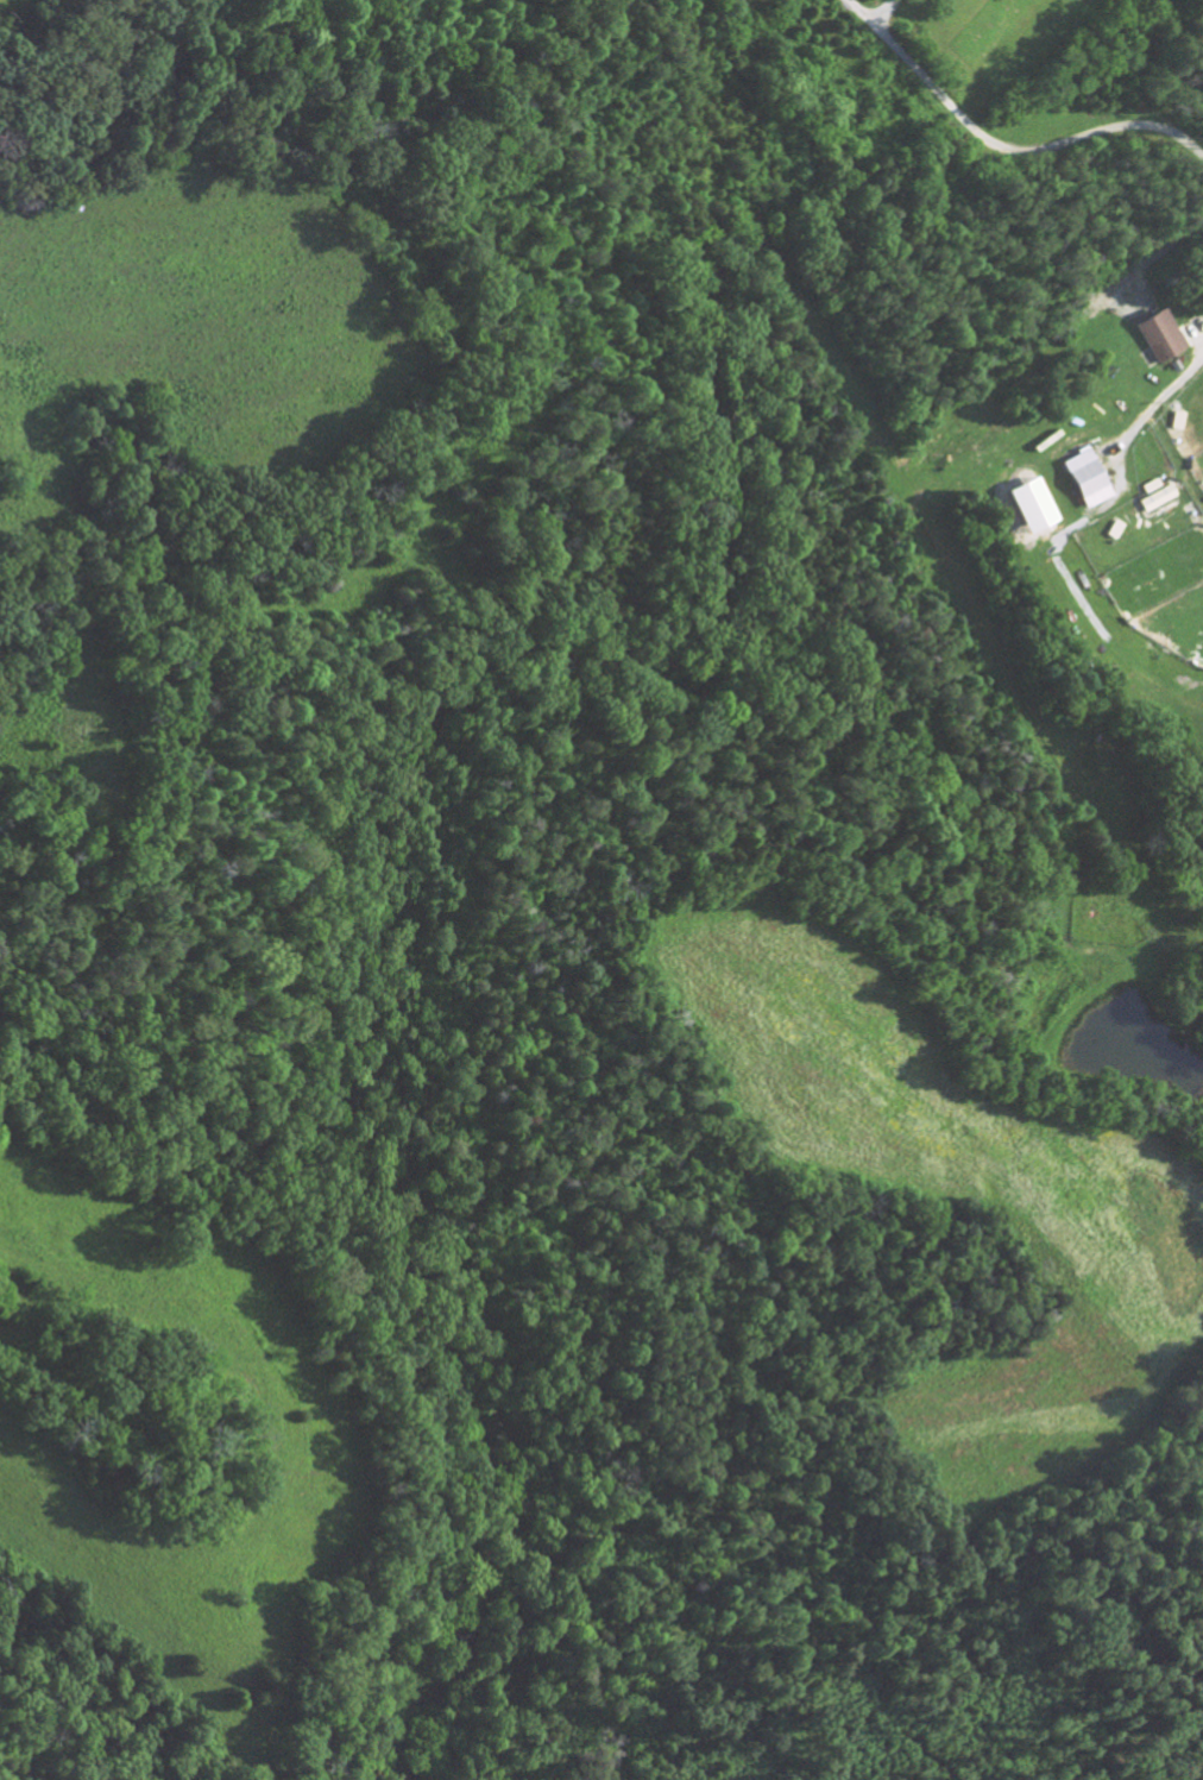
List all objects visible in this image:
road: (880, 12)
road: (1003, 147)
building: (1159, 340)
building: (1087, 483)
building: (1159, 498)
building: (1031, 510)

